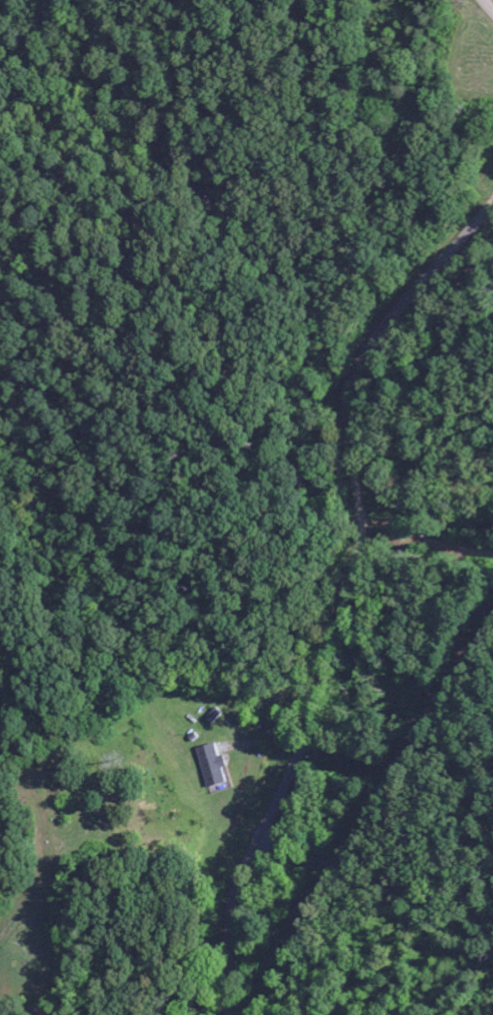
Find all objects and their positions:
road: (488, 5)
road: (347, 594)
building: (210, 765)
road: (377, 836)

